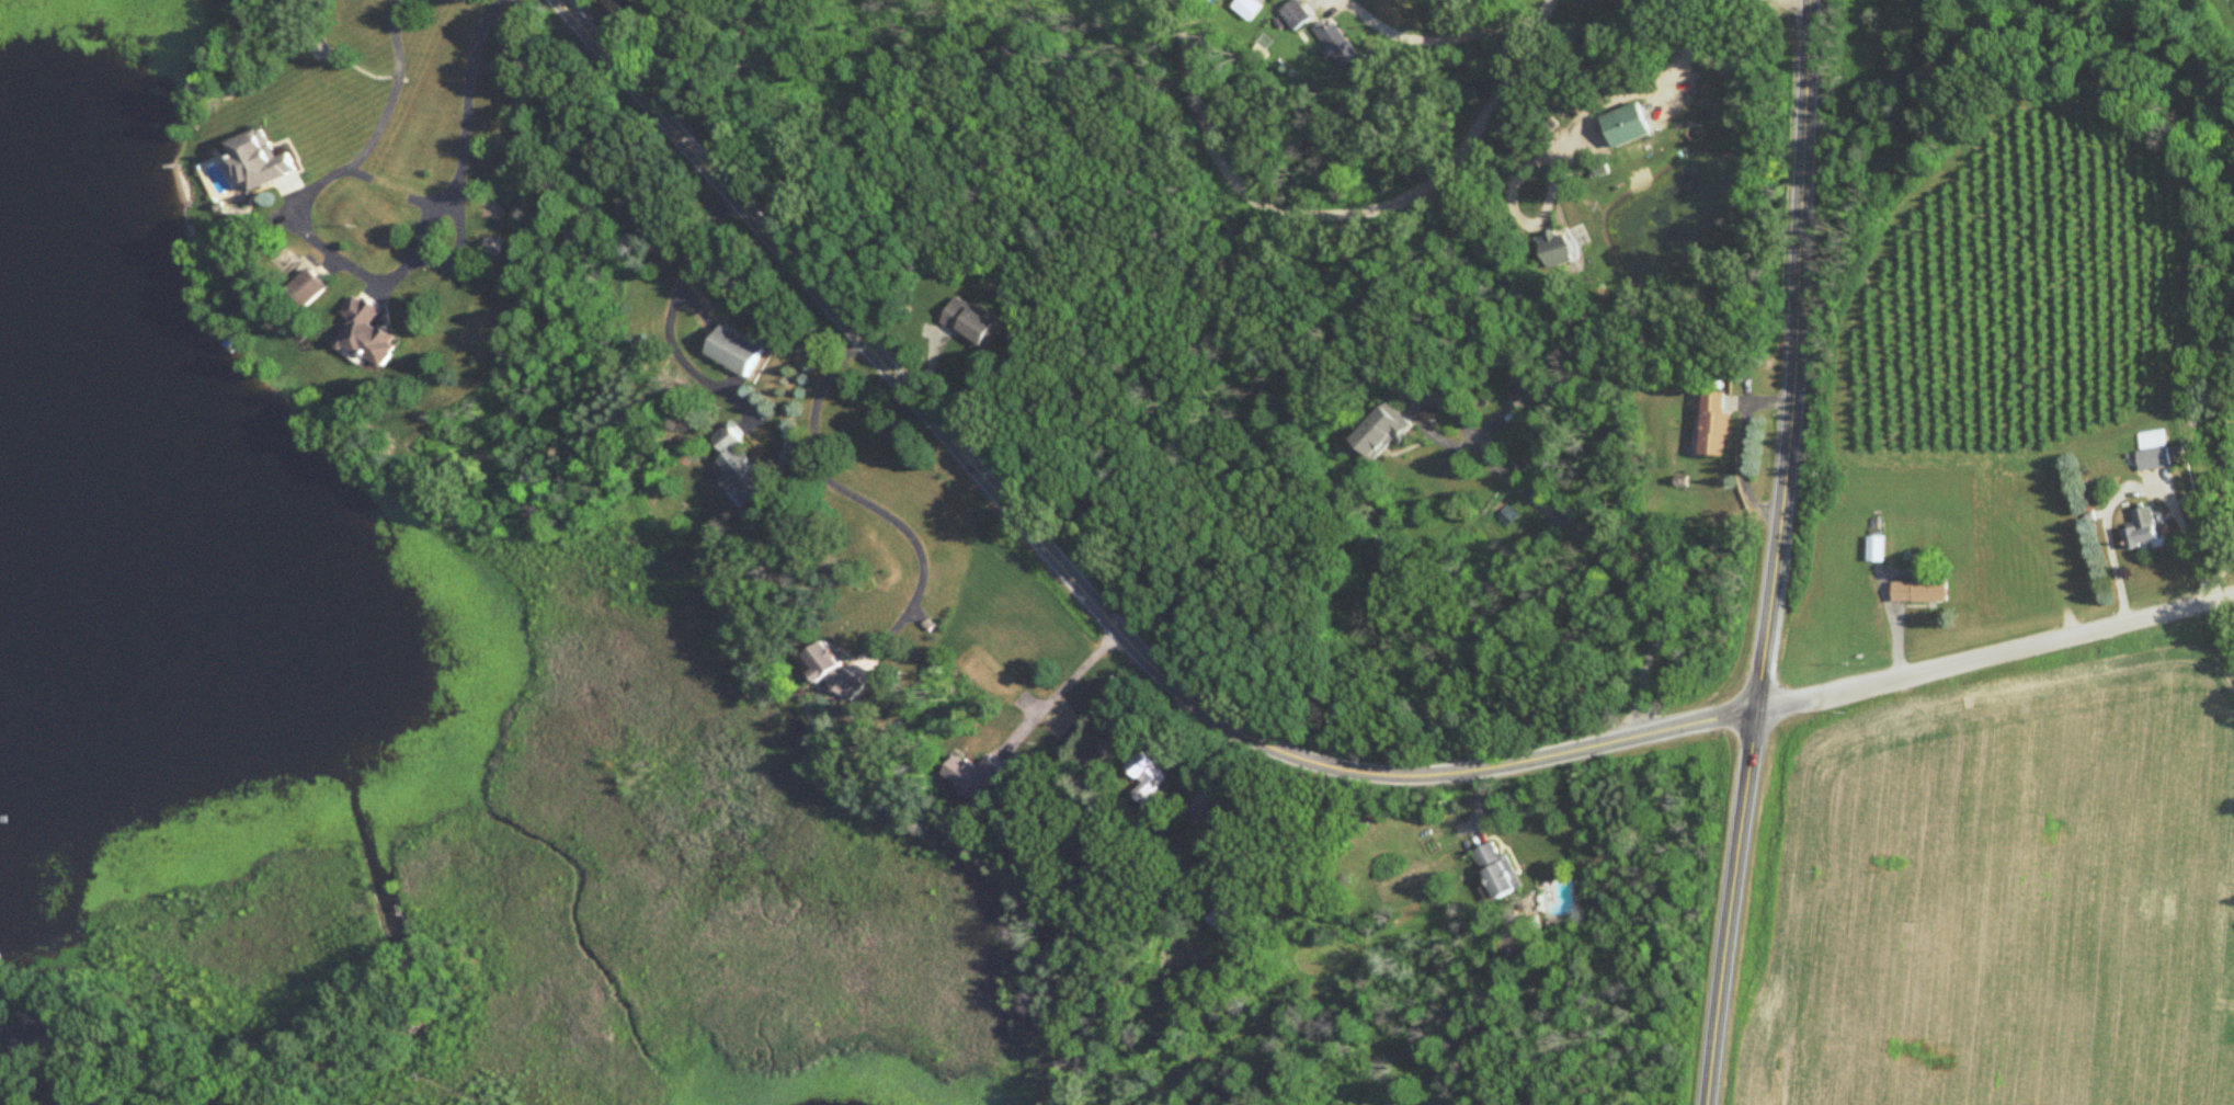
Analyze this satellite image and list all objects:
building: (1246, 9)
road: (583, 11)
road: (1547, 11)
building: (1295, 15)
road: (1435, 38)
road: (1514, 70)
road: (1651, 92)
building: (1629, 125)
building: (260, 160)
road: (360, 172)
road: (294, 189)
road: (422, 202)
road: (1280, 209)
road: (286, 215)
road: (425, 218)
road: (1523, 218)
building: (1560, 249)
road: (330, 265)
road: (378, 281)
road: (378, 288)
building: (311, 289)
road: (670, 318)
building: (971, 322)
building: (371, 334)
building: (734, 352)
building: (1529, 399)
building: (1717, 424)
building: (1382, 433)
road: (1743, 447)
building: (2156, 451)
building: (740, 471)
road: (2138, 487)
road: (865, 502)
road: (1551, 515)
building: (2145, 529)
building: (1877, 549)
road: (1776, 554)
road: (1067, 573)
building: (1920, 593)
road: (1995, 654)
building: (840, 674)
road: (1062, 691)
building: (976, 777)
building: (1148, 782)
building: (1498, 873)
building: (1228, 912)
building: (32, 1032)
road: (9, 1069)

